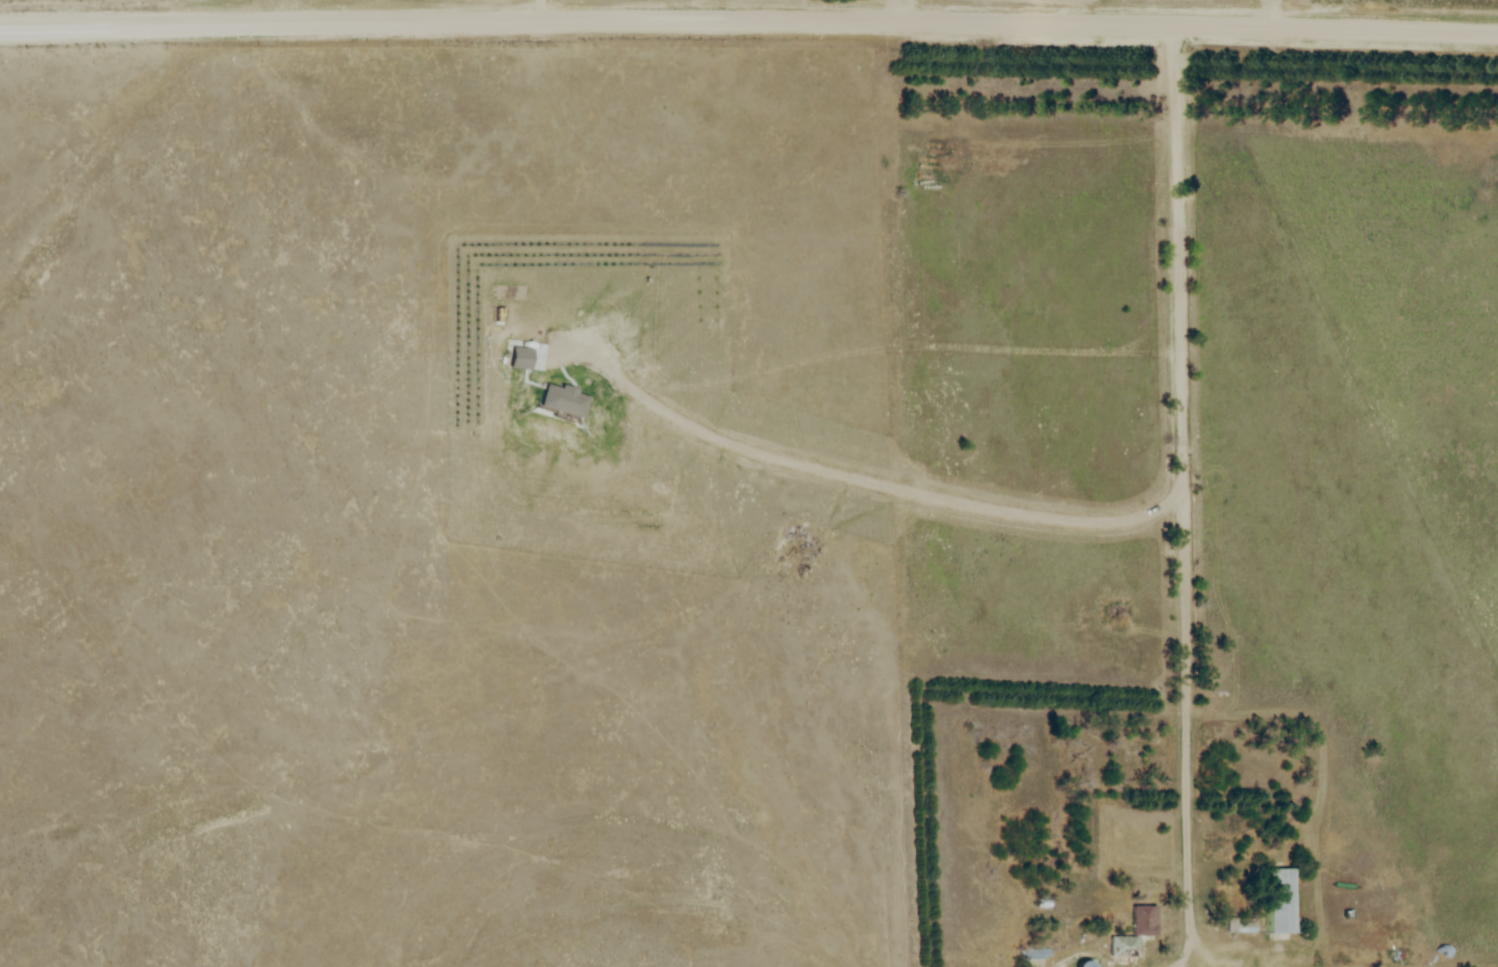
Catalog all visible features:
road: (714, 10)
road: (911, 10)
road: (749, 20)
road: (1189, 498)
building: (1282, 901)
building: (1143, 920)
building: (1124, 946)
building: (1038, 956)
building: (1086, 964)

